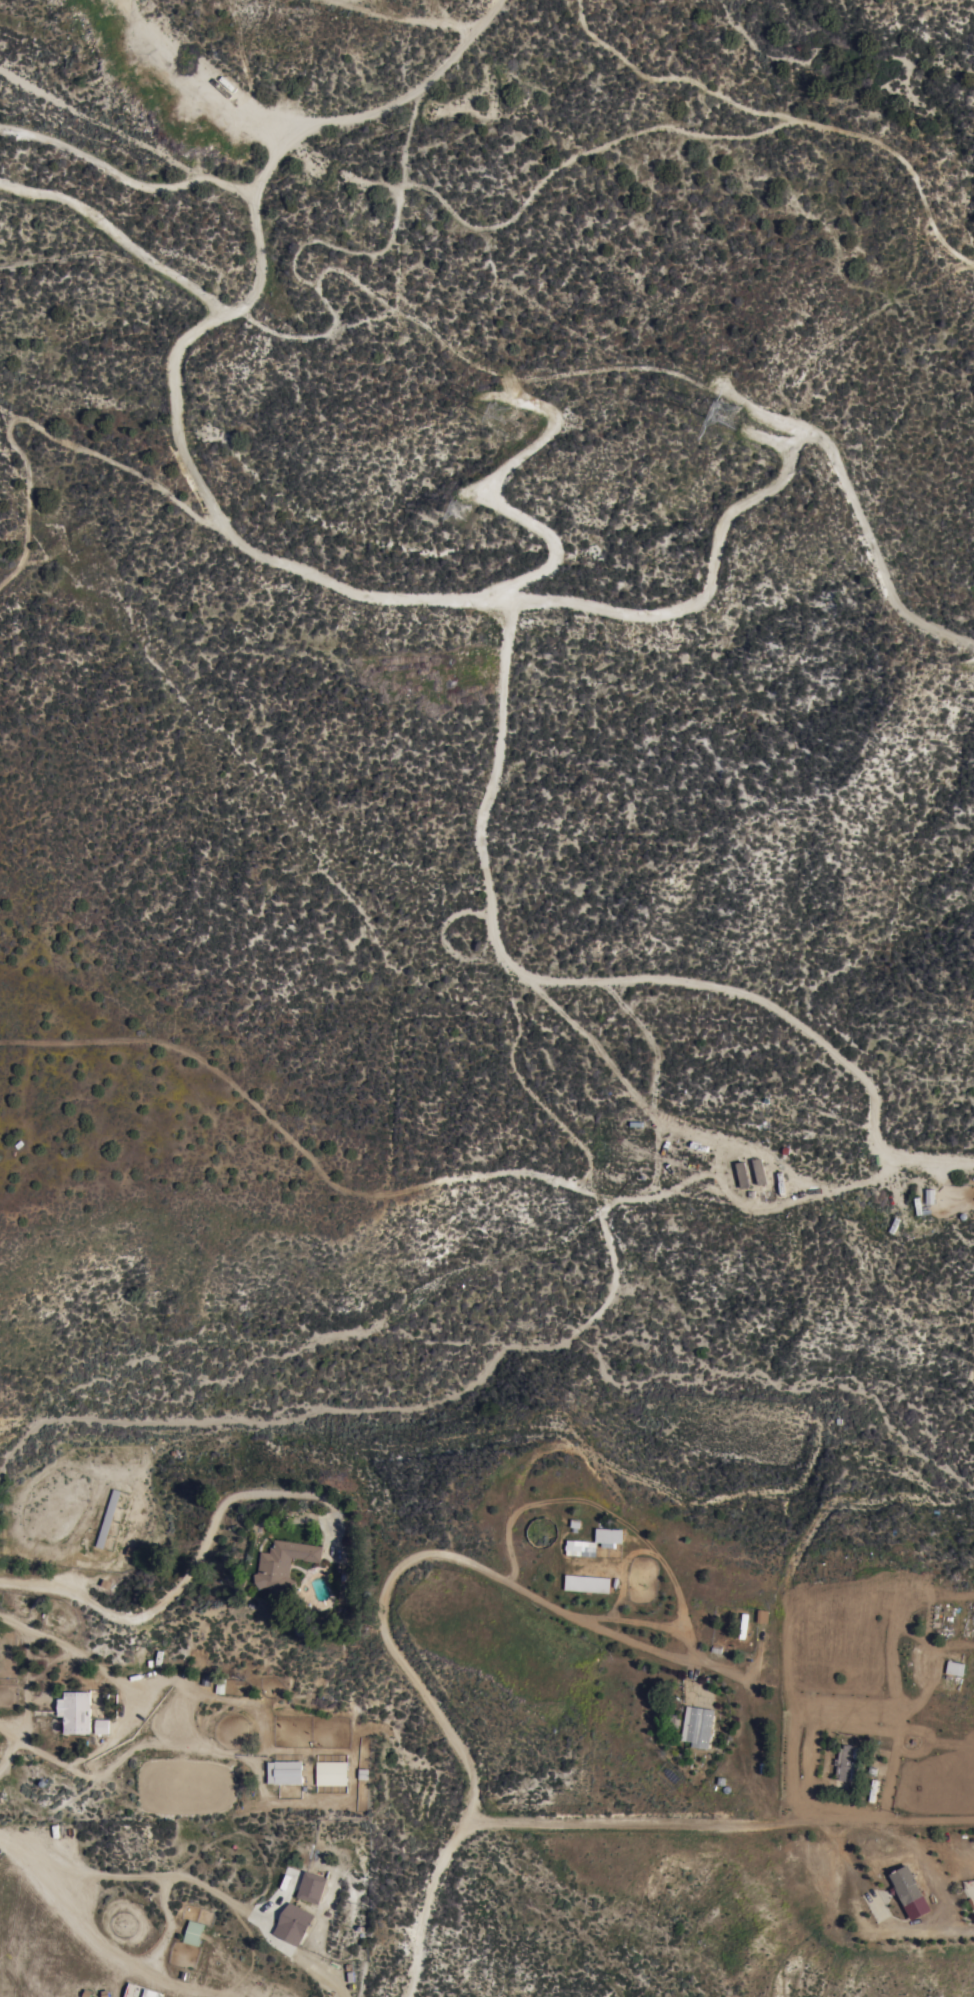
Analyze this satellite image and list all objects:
road: (404, 17)
road: (763, 51)
road: (200, 76)
road: (127, 179)
road: (539, 380)
power tower: (723, 410)
power tower: (499, 414)
power tower: (449, 510)
road: (430, 598)
road: (689, 1132)
building: (760, 1171)
building: (743, 1174)
road: (372, 1407)
road: (689, 1496)
road: (513, 1497)
building: (108, 1519)
building: (609, 1537)
building: (581, 1548)
road: (419, 1556)
road: (196, 1561)
building: (283, 1565)
building: (588, 1584)
building: (953, 1668)
building: (75, 1712)
building: (698, 1726)
building: (102, 1727)
building: (846, 1764)
building: (285, 1773)
building: (331, 1774)
road: (715, 1826)
road: (207, 1885)
building: (905, 1885)
building: (312, 1888)
building: (294, 1925)
road: (167, 1928)
building: (193, 1933)
road: (103, 1949)
building: (137, 1991)

